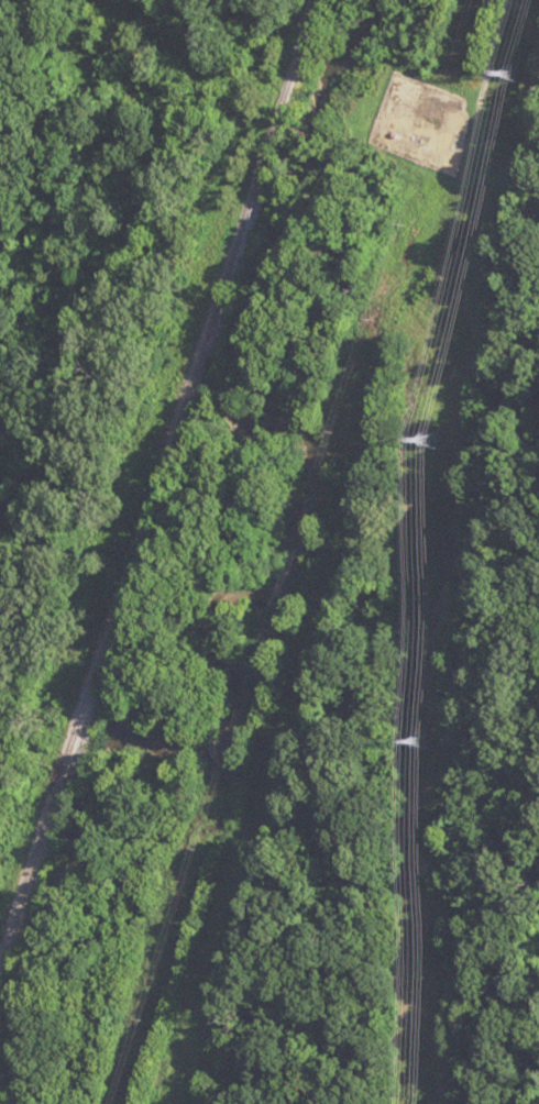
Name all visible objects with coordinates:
power tower: (507, 73)
power tower: (432, 439)
railway: (155, 475)
power tower: (421, 741)

